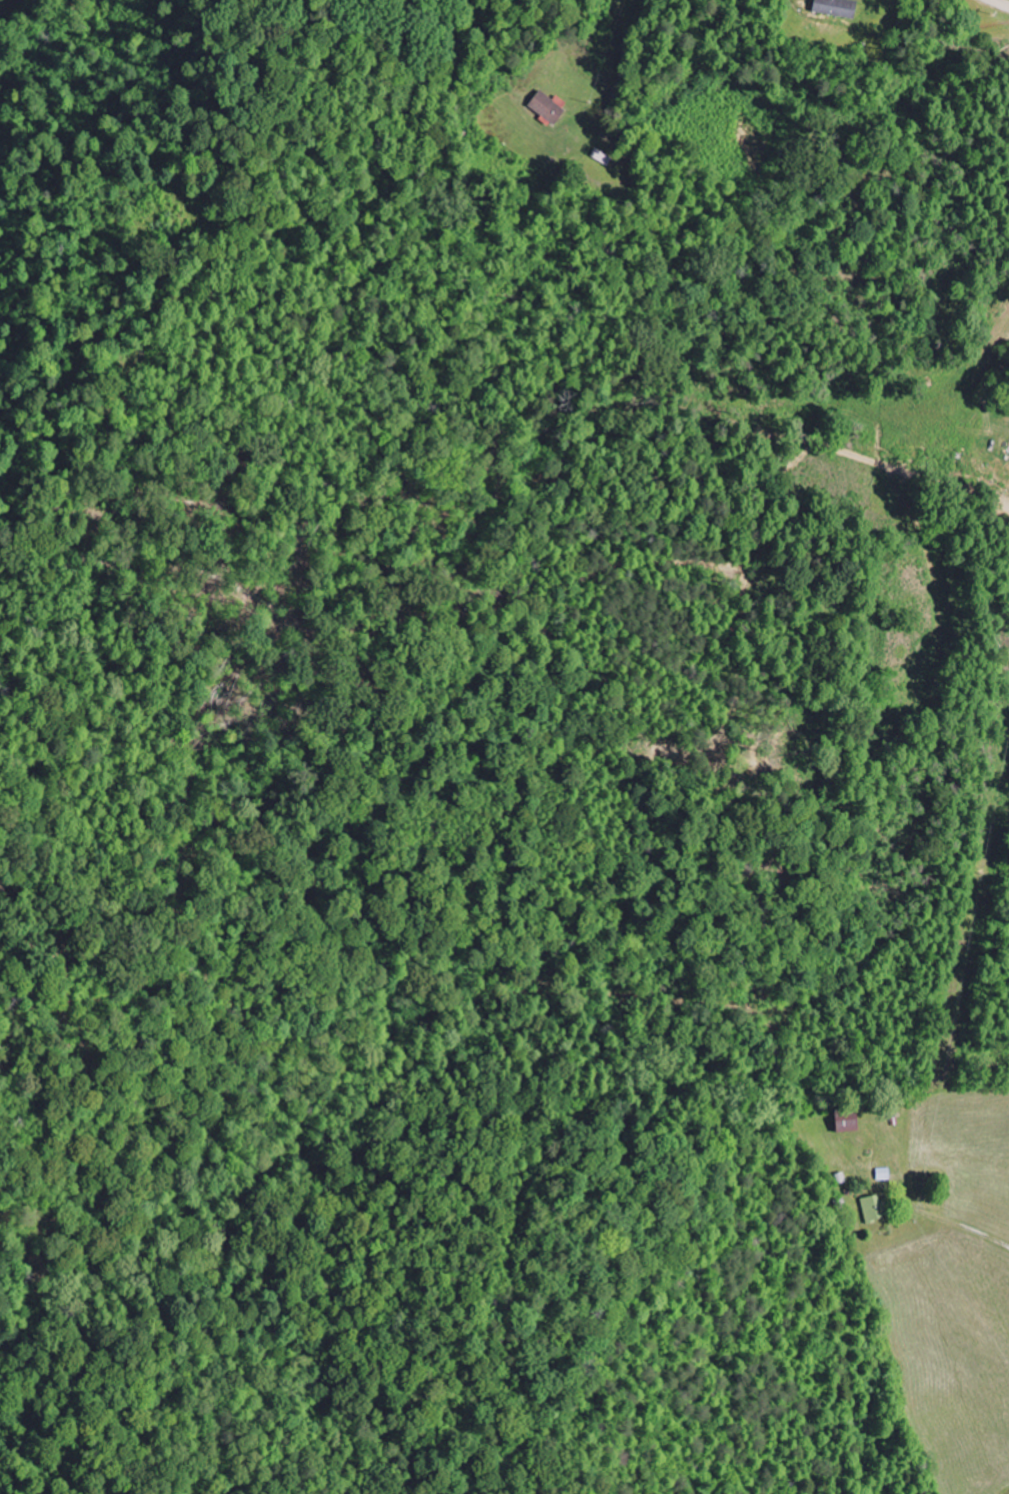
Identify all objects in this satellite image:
road: (0, 0)
building: (831, 8)
building: (544, 107)
road: (965, 513)
building: (872, 1208)
road: (862, 1220)

